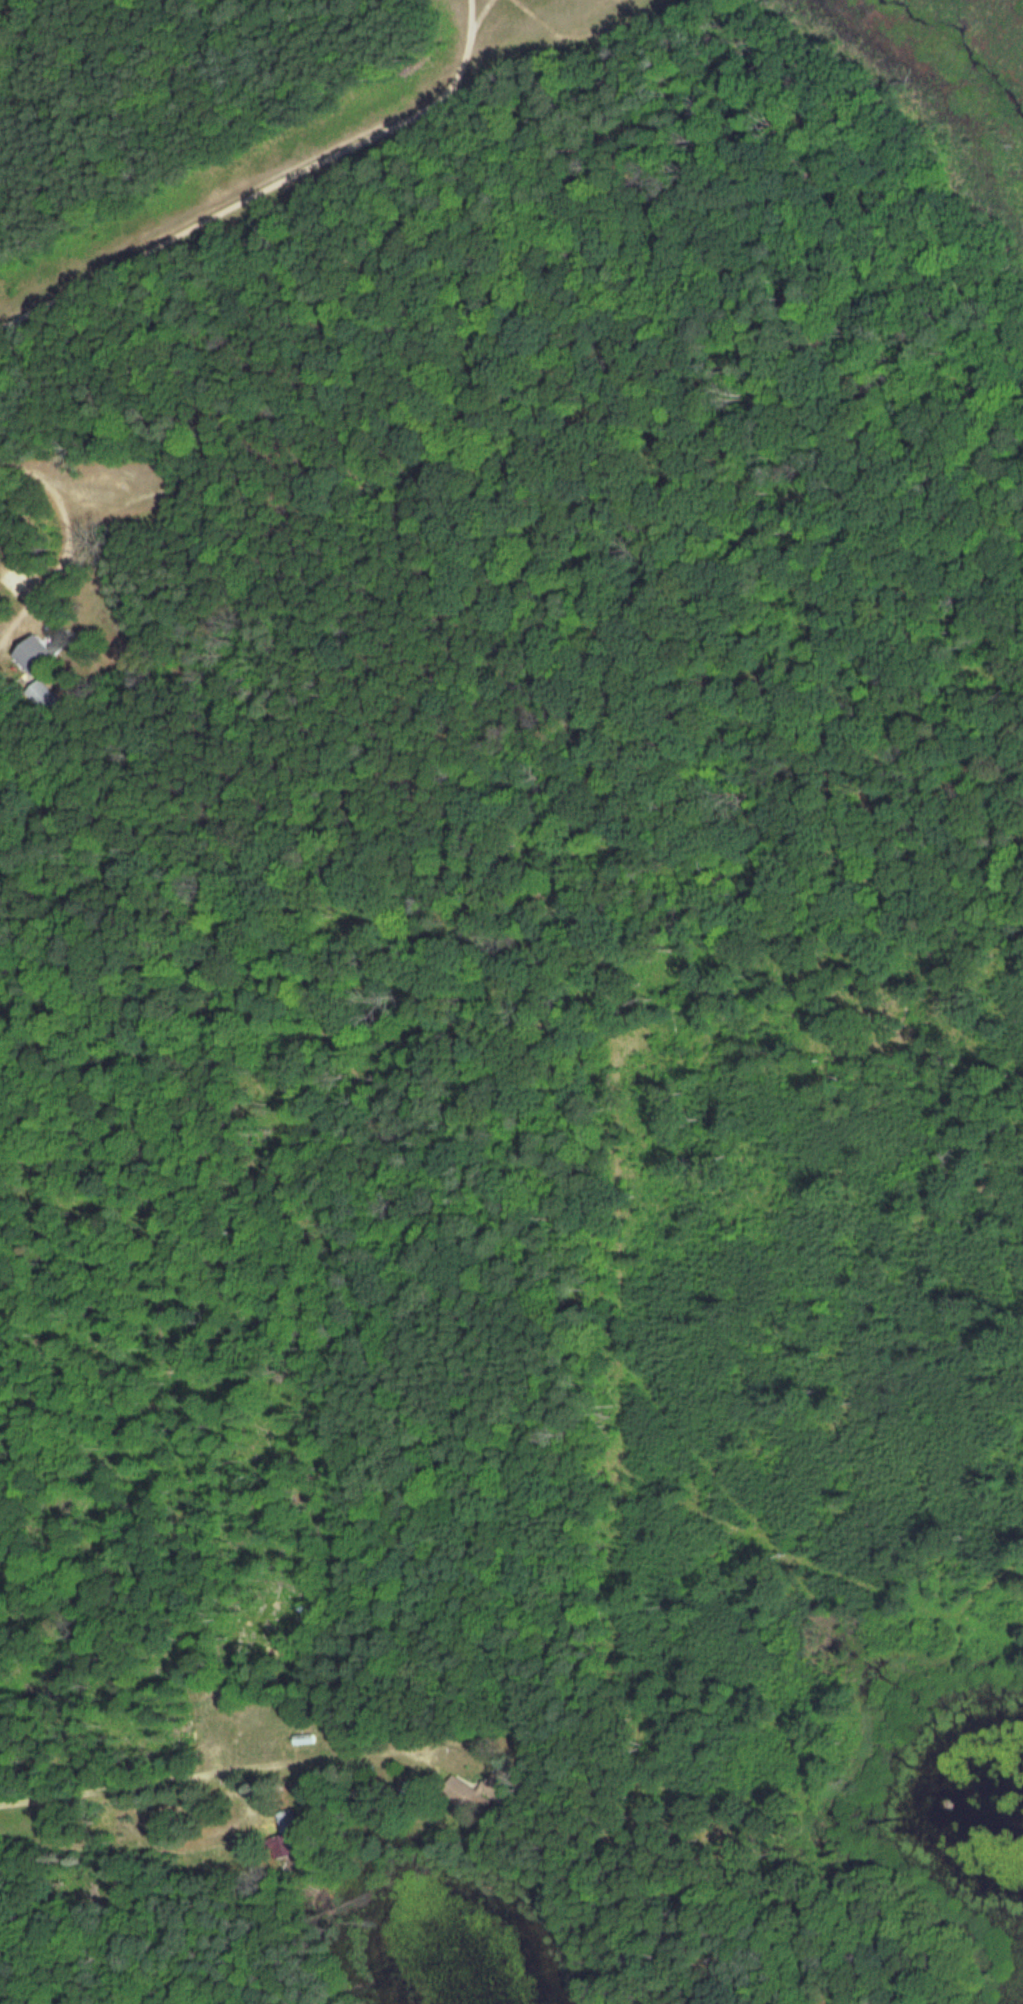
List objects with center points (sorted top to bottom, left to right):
building: (42, 658)
building: (41, 694)
building: (302, 1735)
road: (204, 1772)
building: (455, 1789)
building: (284, 1819)
road: (161, 1848)

